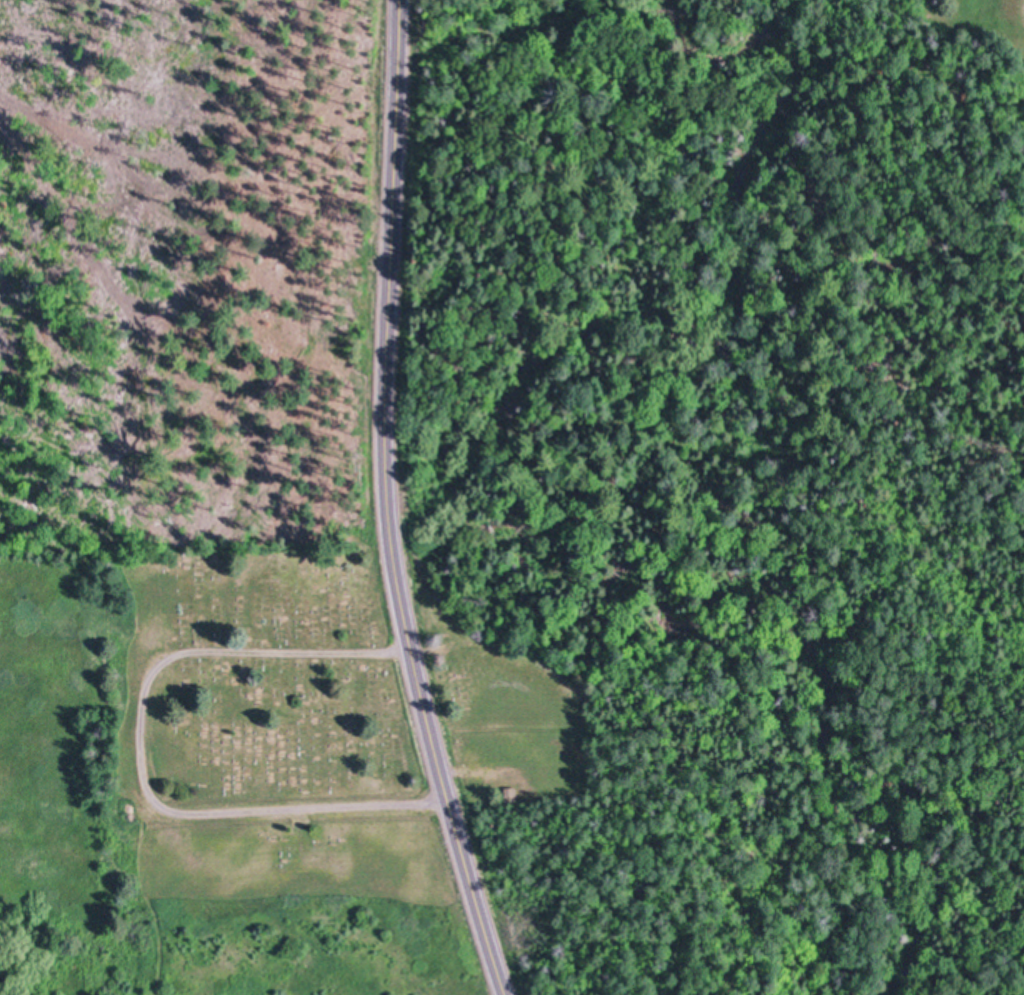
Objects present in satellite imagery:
road: (386, 504)
park: (275, 735)
road: (140, 753)
building: (510, 793)

